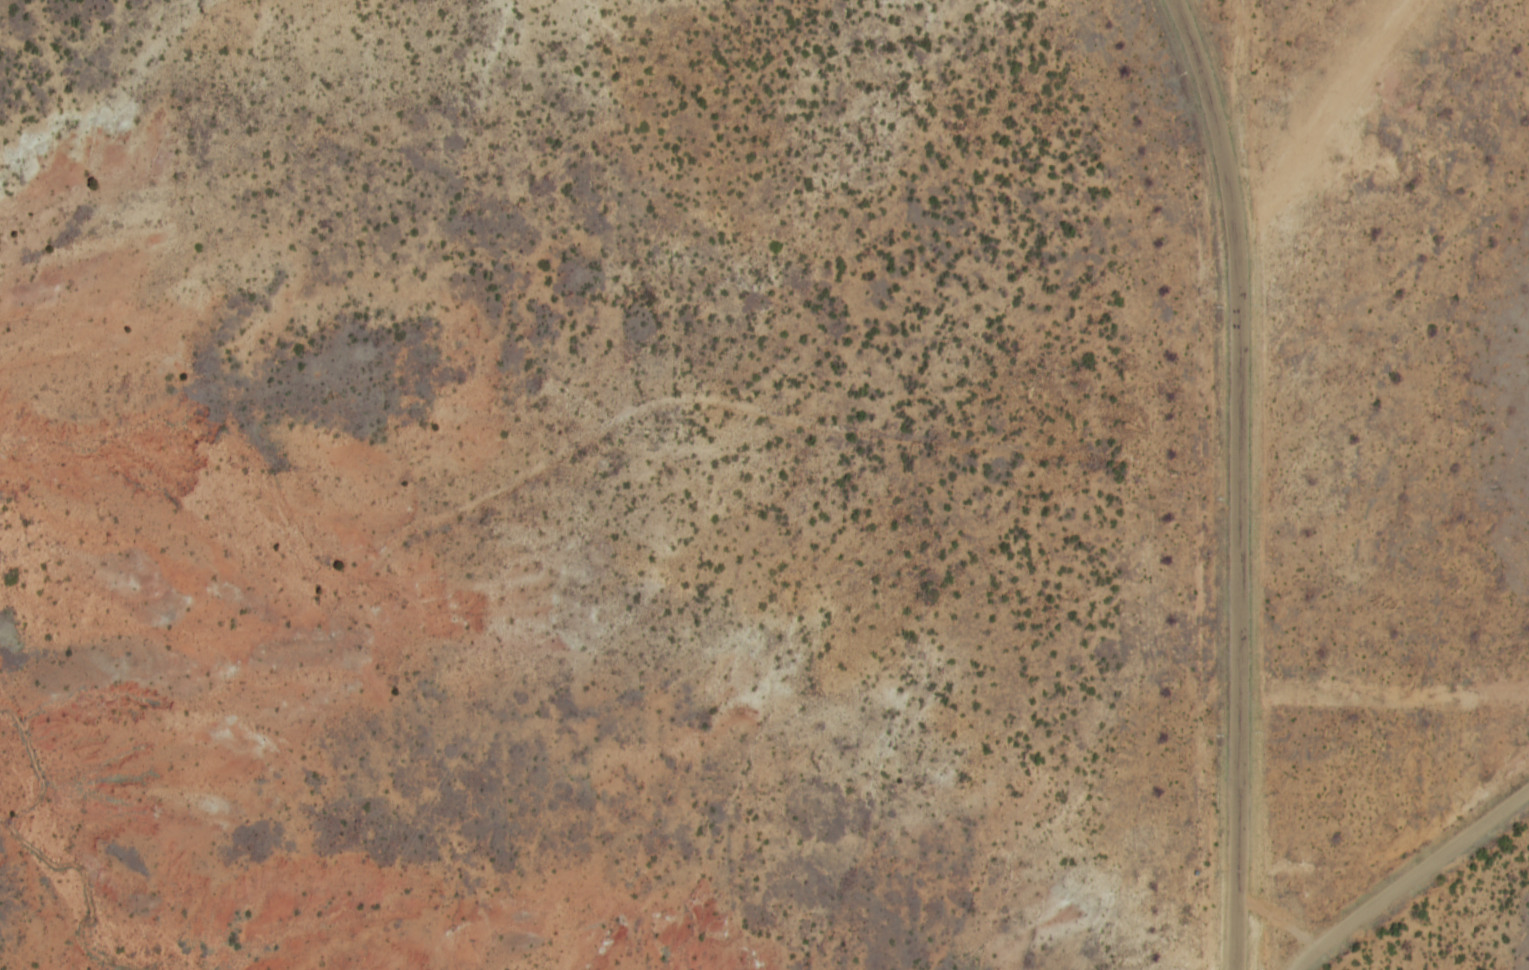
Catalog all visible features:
road: (1220, 139)
road: (1238, 485)
road: (1411, 879)

